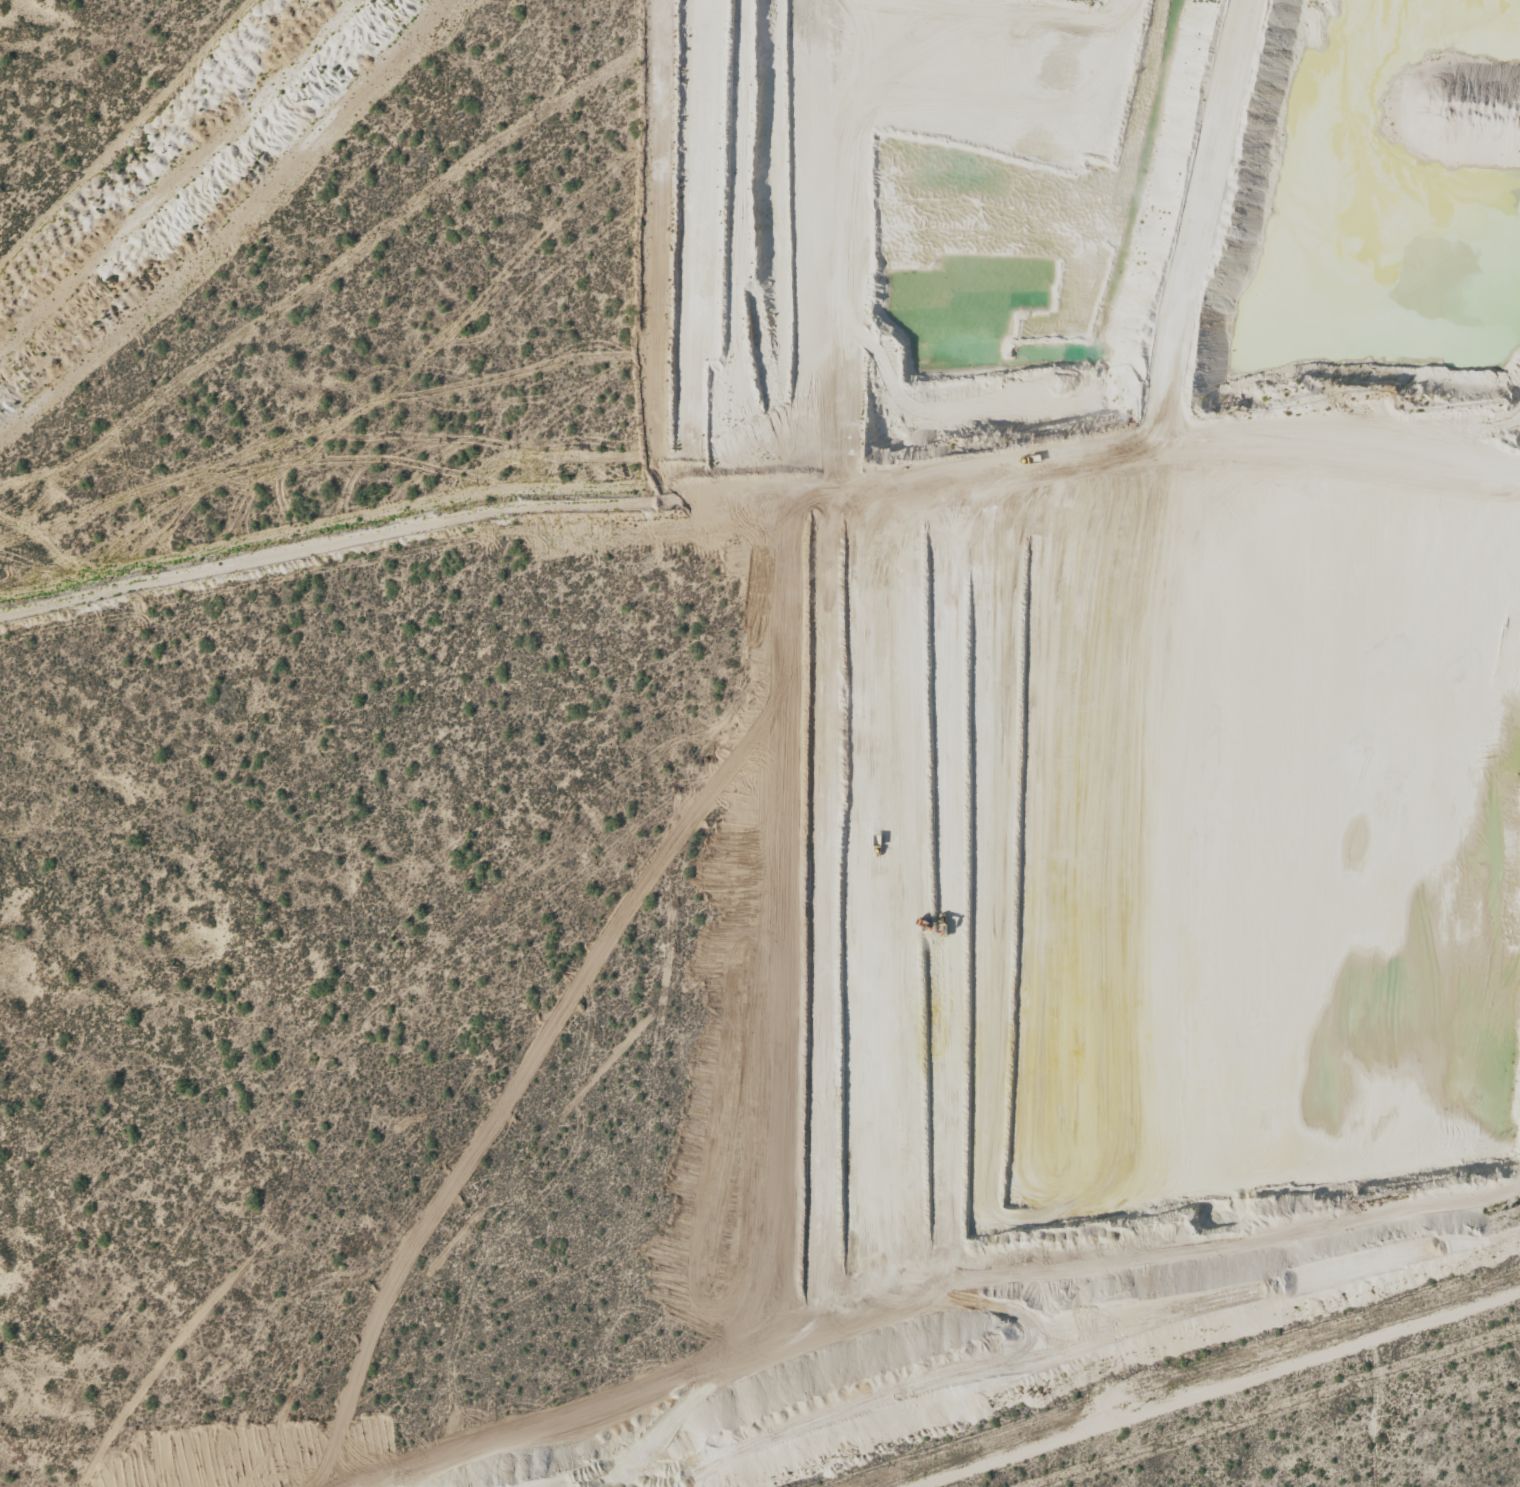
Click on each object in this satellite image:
road: (1351, 728)
quarry: (755, 734)

